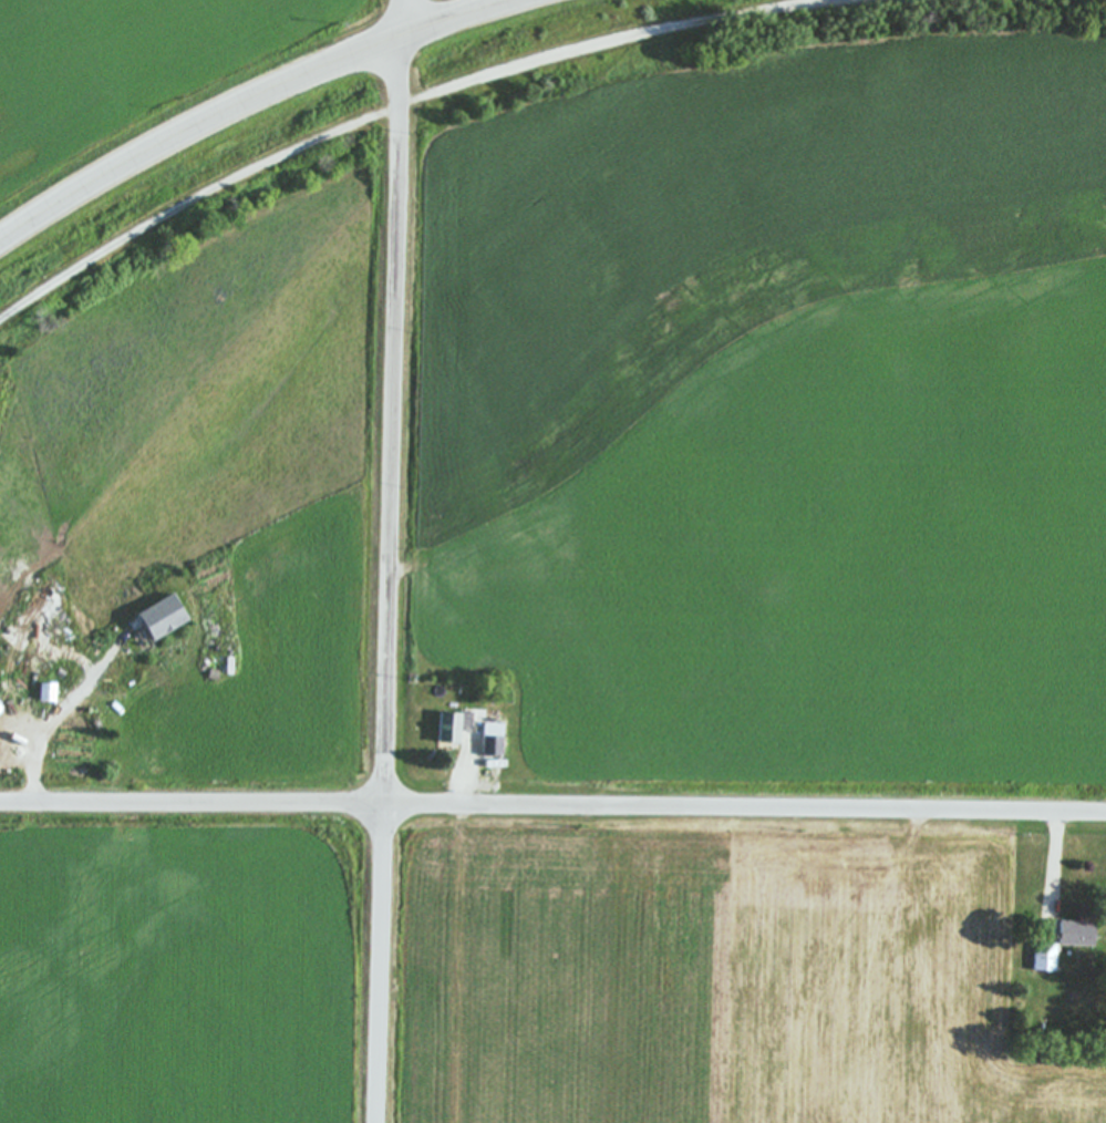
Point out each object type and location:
road: (251, 101)
road: (404, 106)
road: (392, 560)
building: (167, 617)
building: (458, 727)
building: (488, 739)
road: (34, 766)
road: (465, 779)
road: (552, 805)
road: (1057, 869)
building: (1072, 935)
building: (1042, 959)

